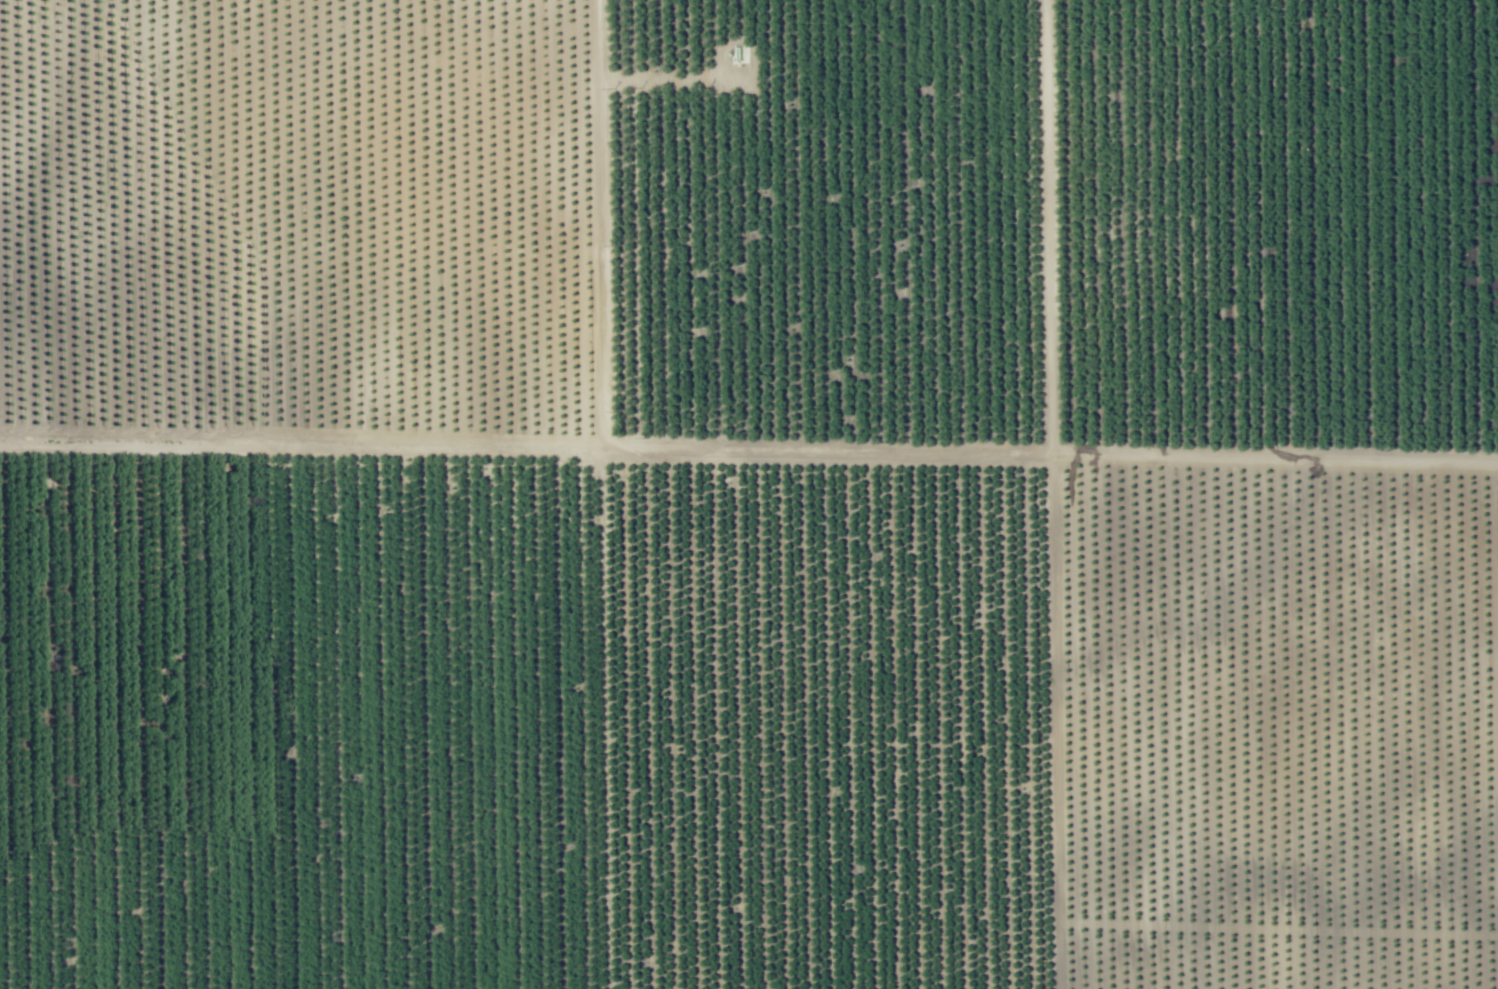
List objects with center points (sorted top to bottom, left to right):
crop: (749, 494)

